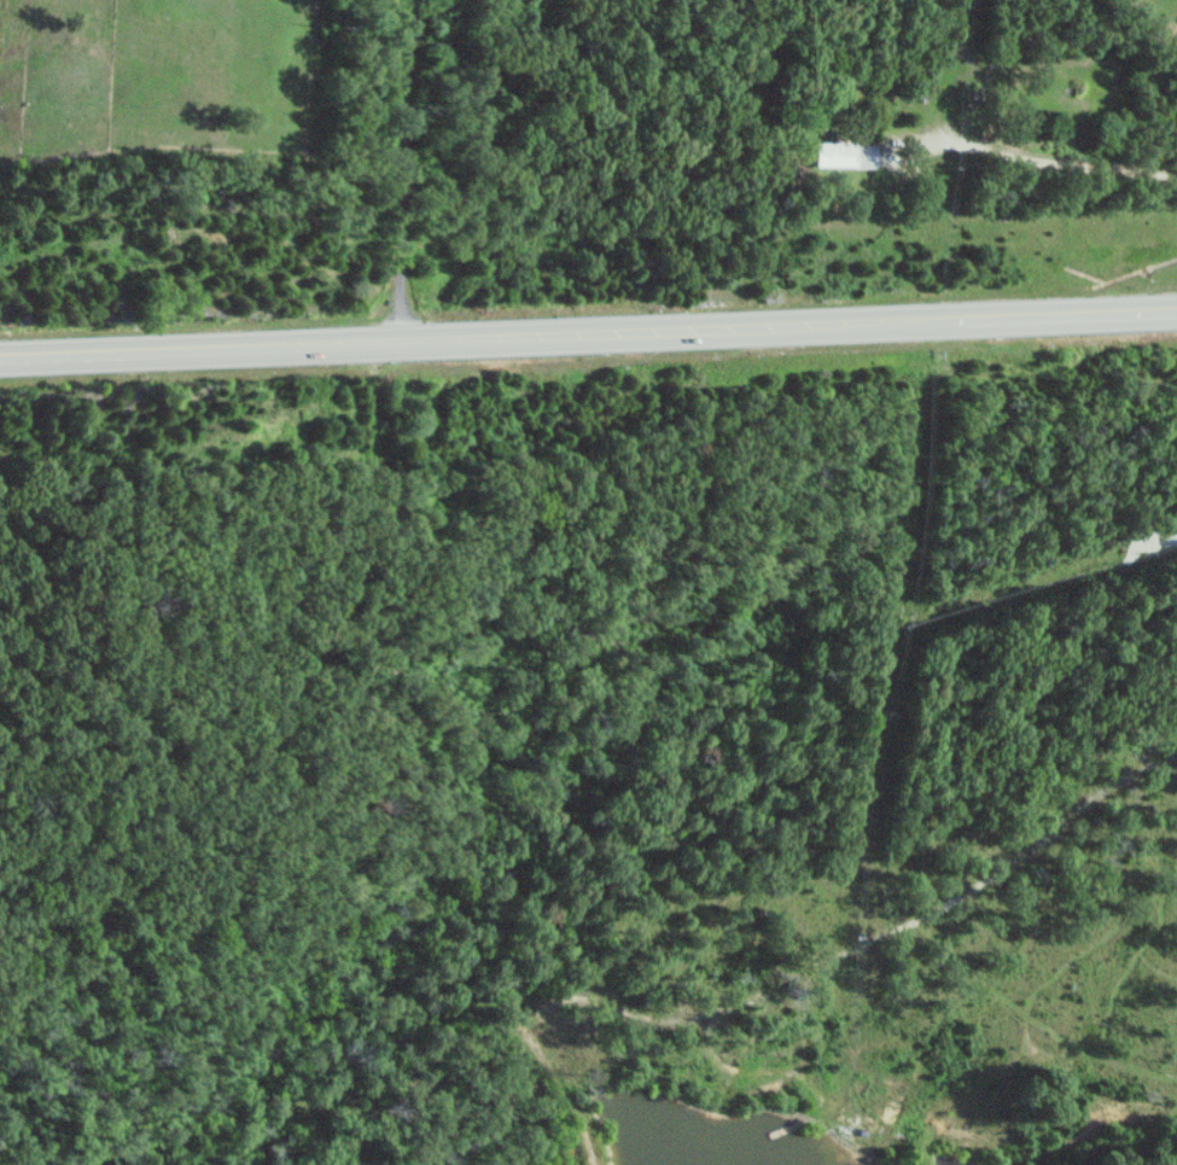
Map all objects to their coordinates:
park: (1161, 12)
building: (843, 156)
road: (1043, 159)
road: (588, 332)

